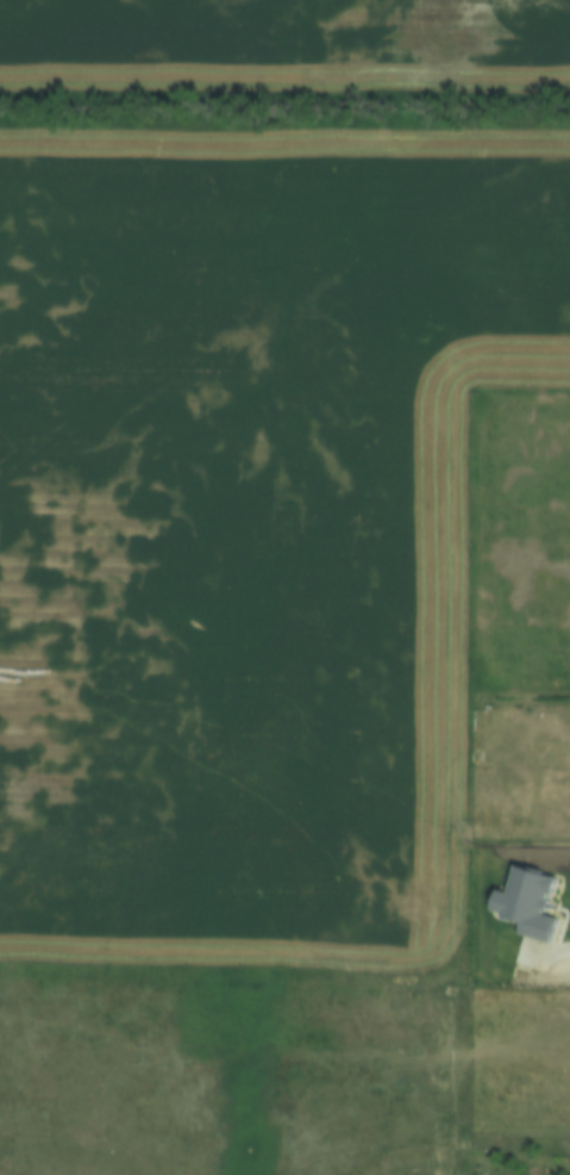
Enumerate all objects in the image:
building: (525, 903)

